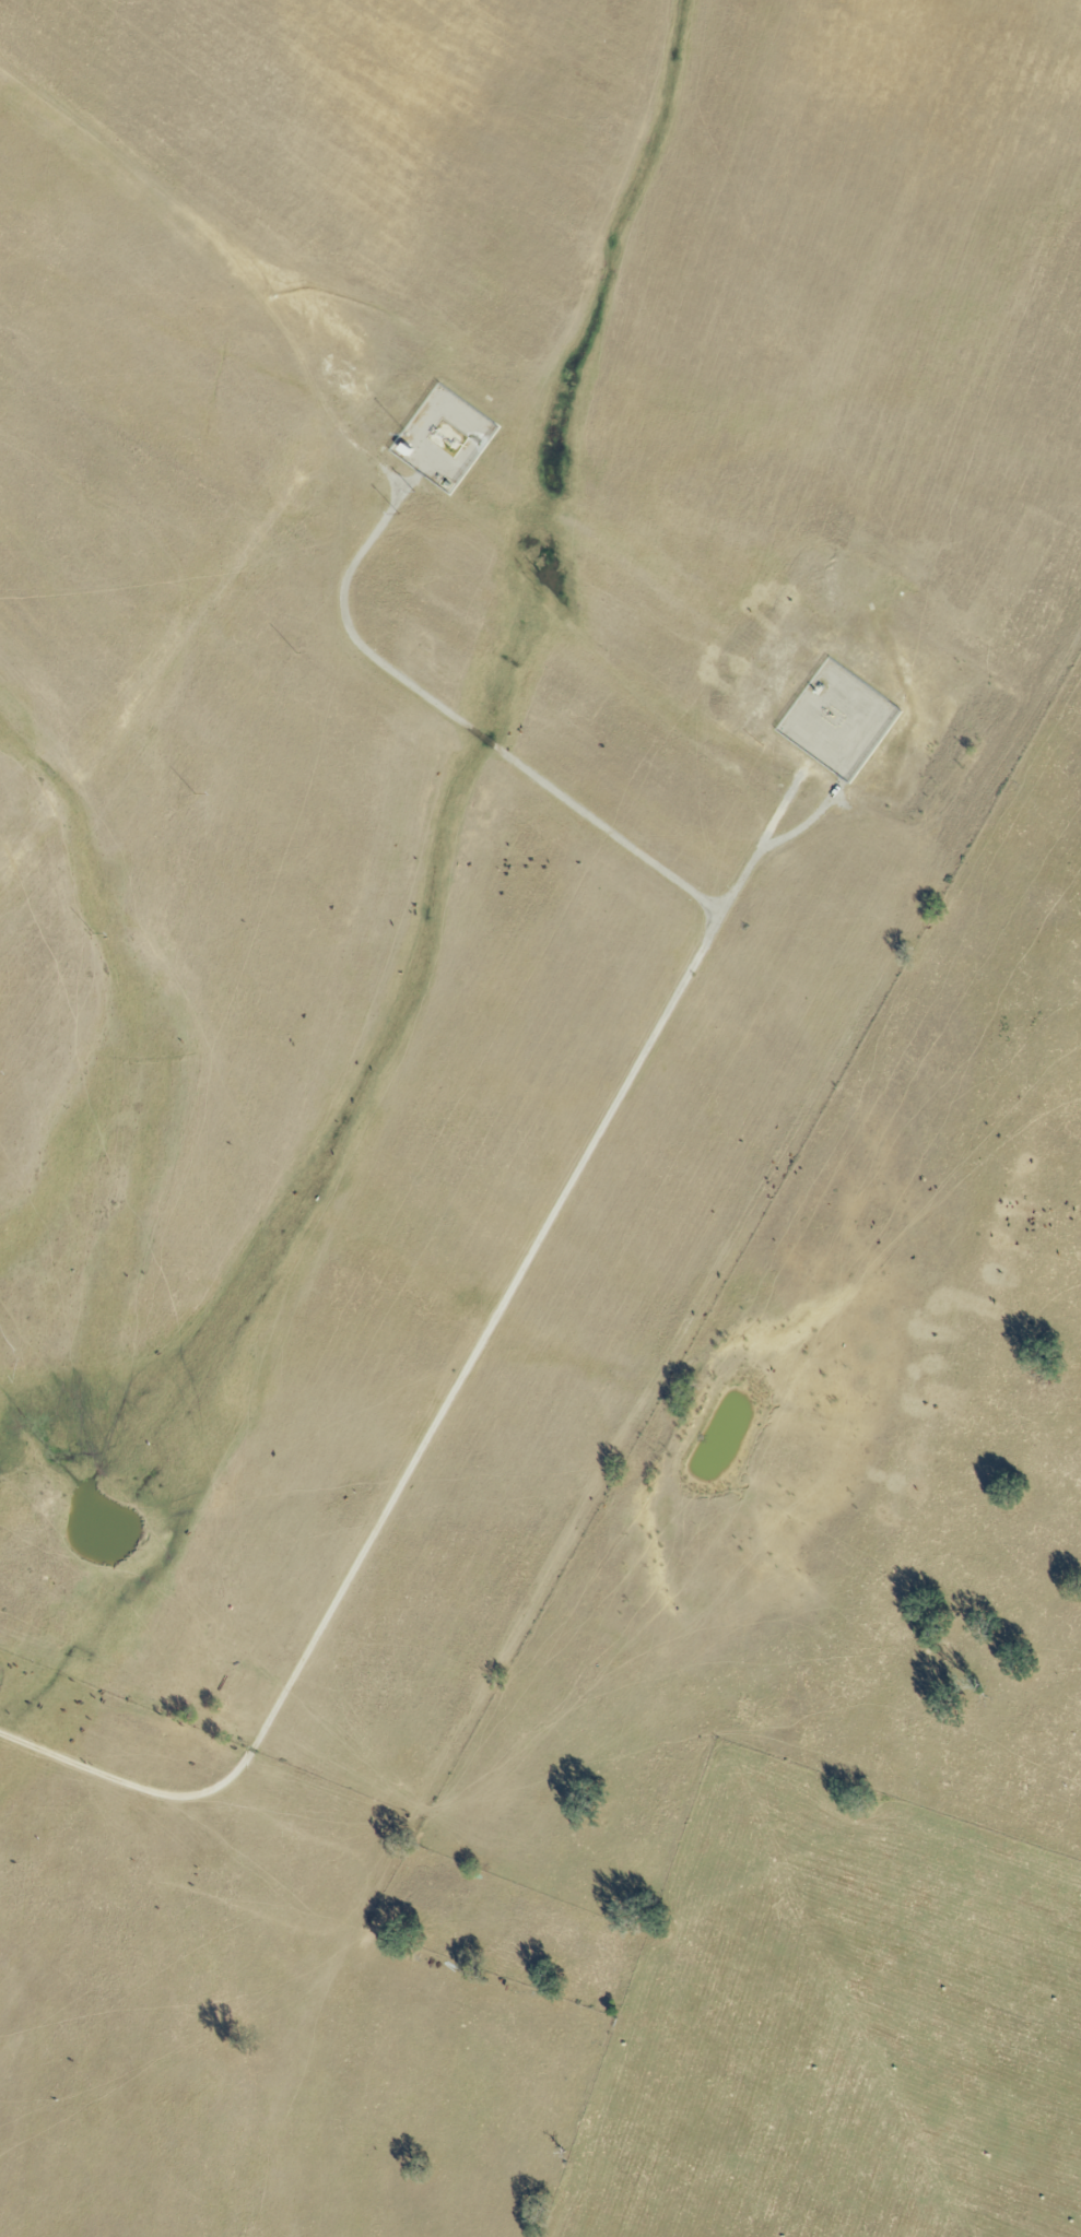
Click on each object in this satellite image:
road: (479, 732)
road: (436, 1418)

